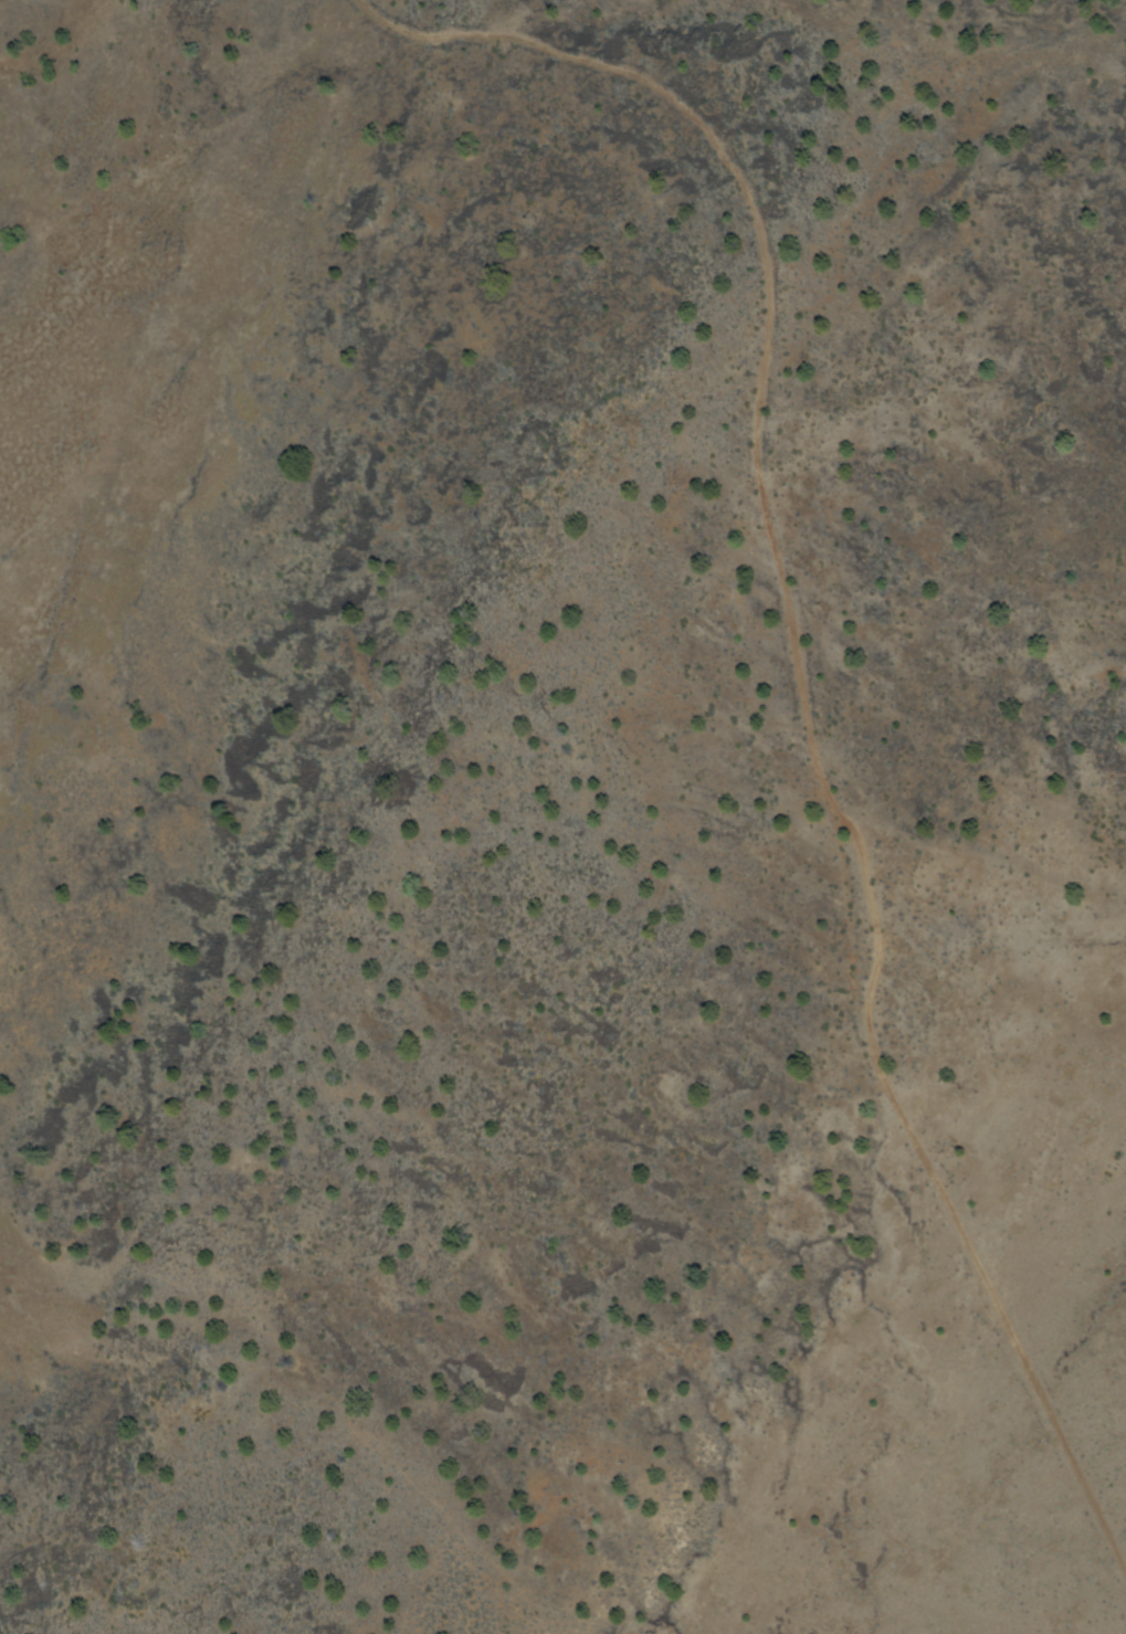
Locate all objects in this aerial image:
road: (804, 681)

